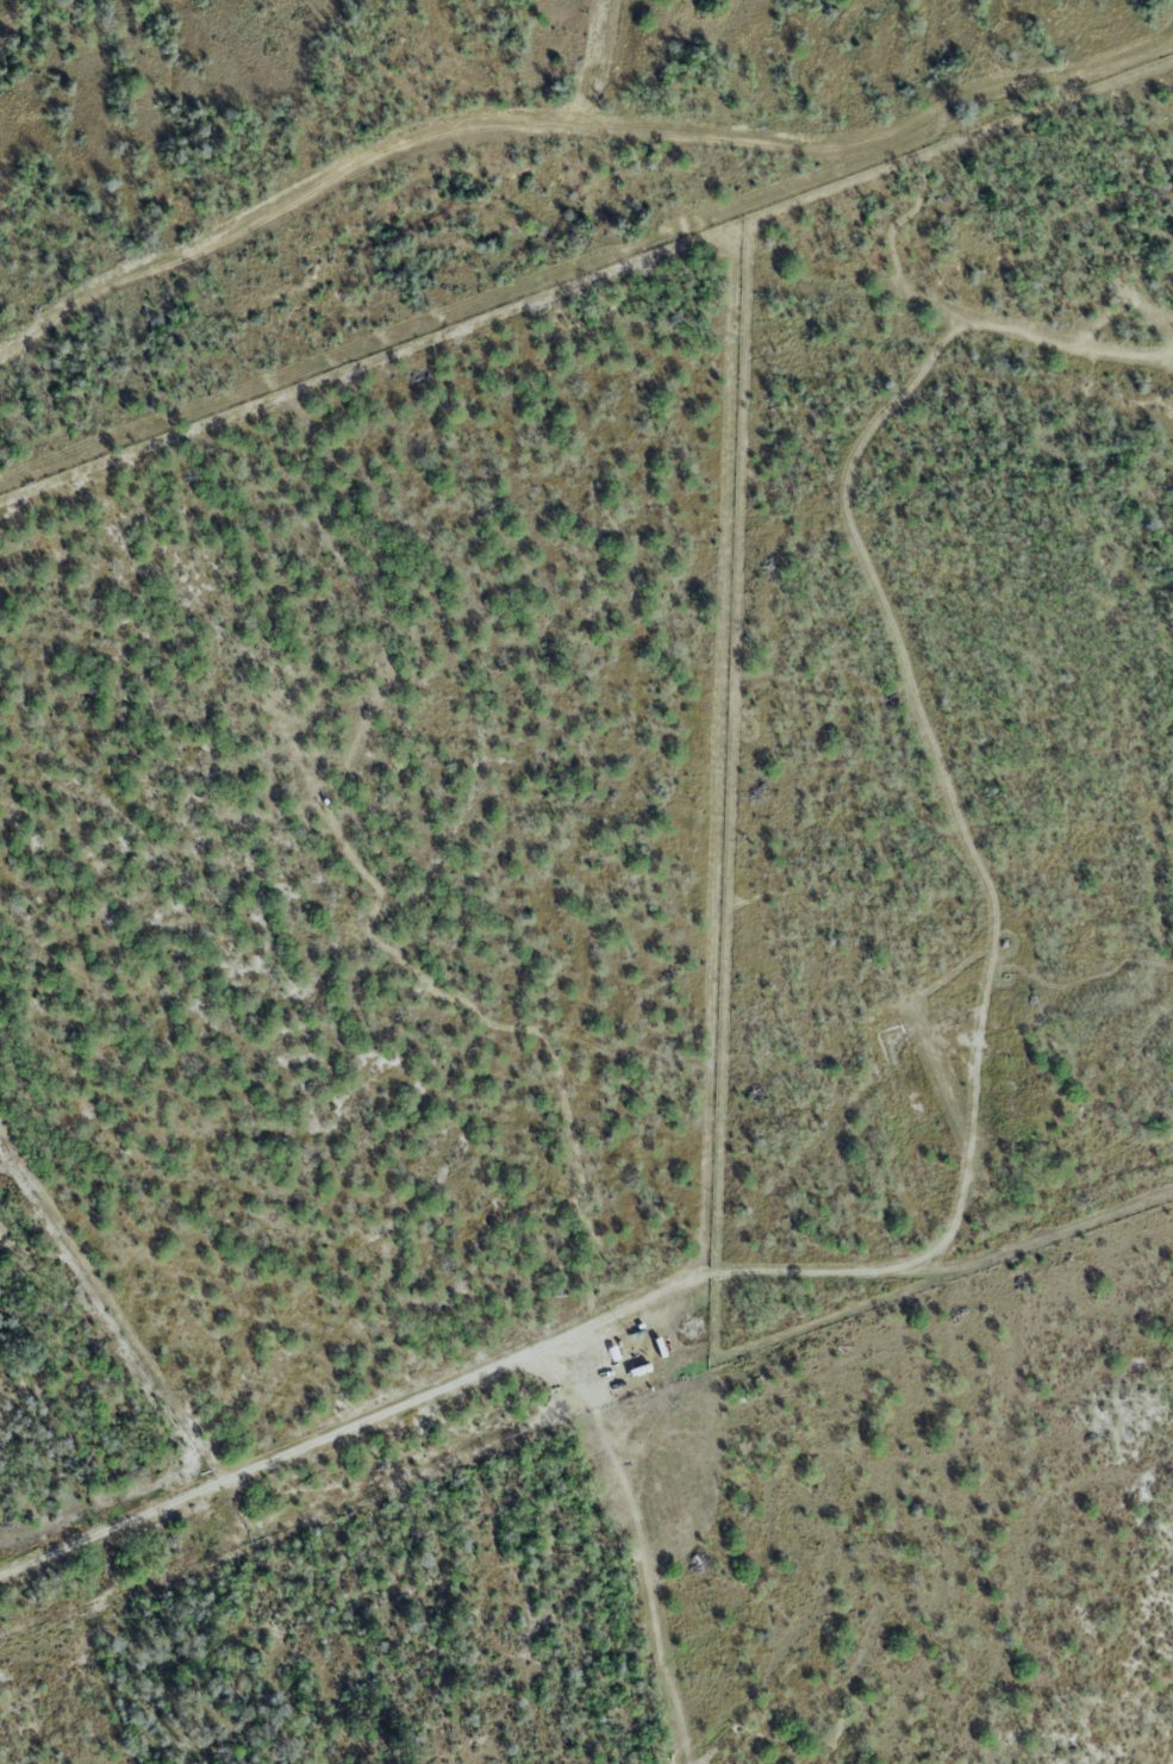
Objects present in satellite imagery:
road: (567, 1334)
building: (614, 1354)

